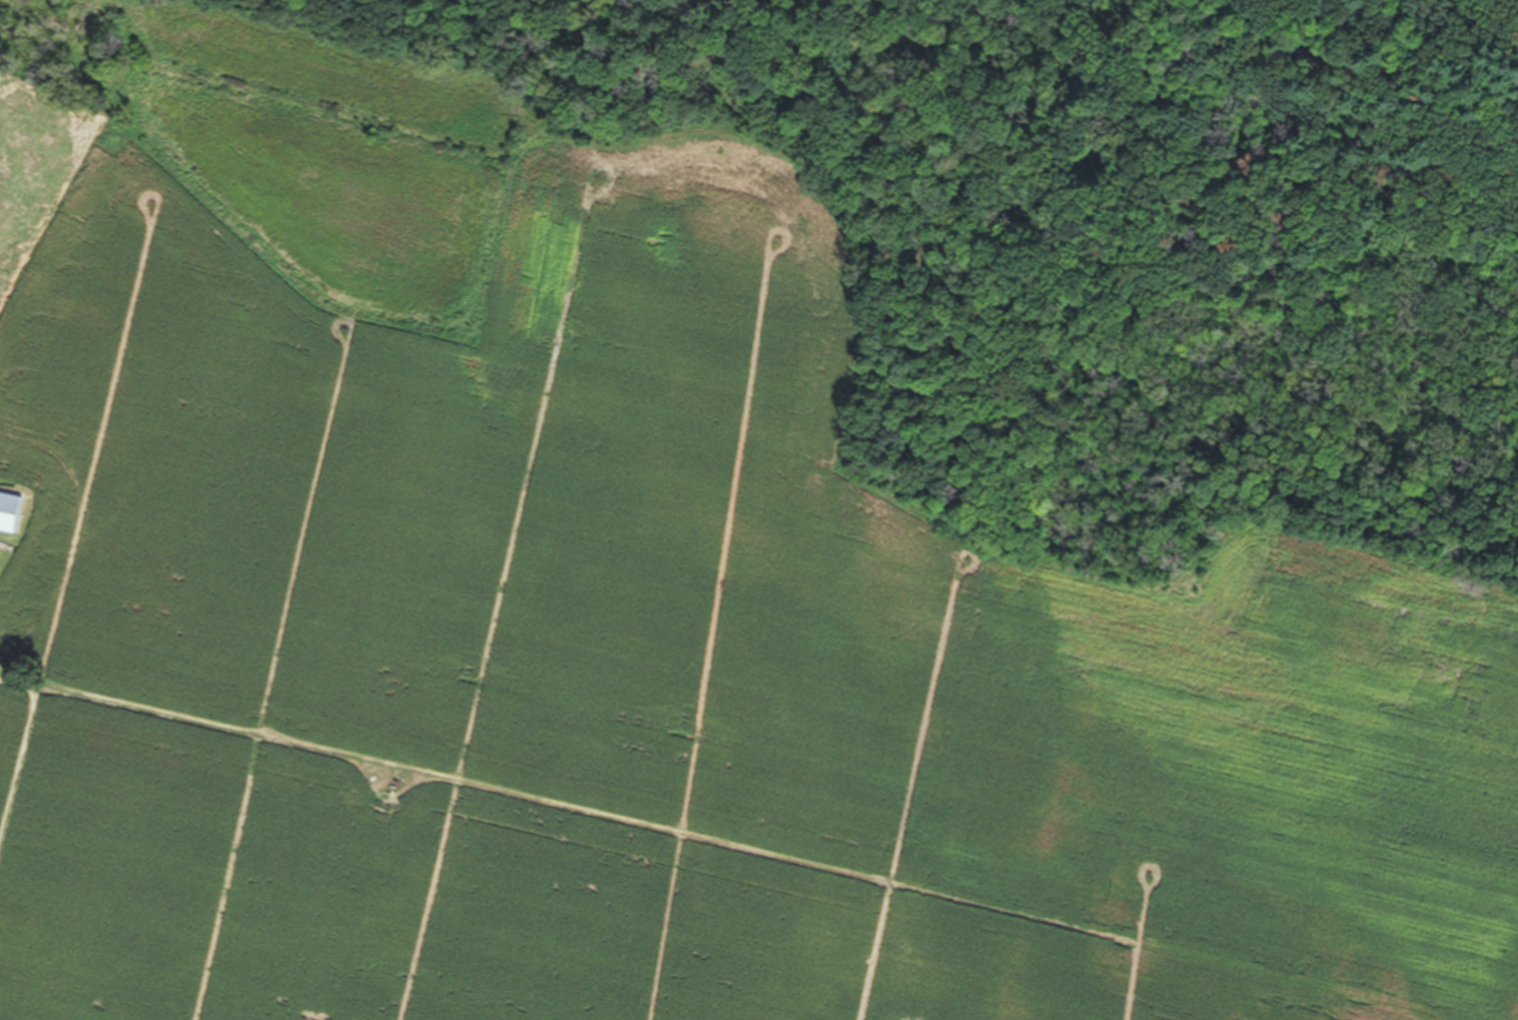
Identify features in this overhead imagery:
building: (10, 521)

